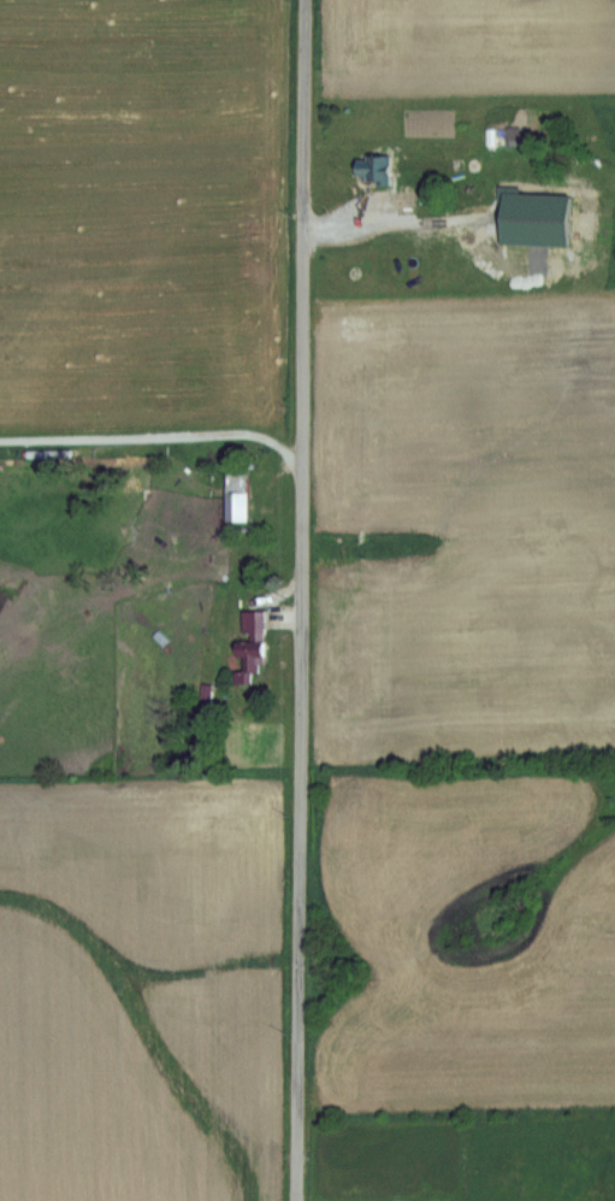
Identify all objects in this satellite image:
building: (502, 136)
building: (372, 170)
building: (533, 246)
building: (236, 495)
road: (297, 600)
building: (250, 647)

